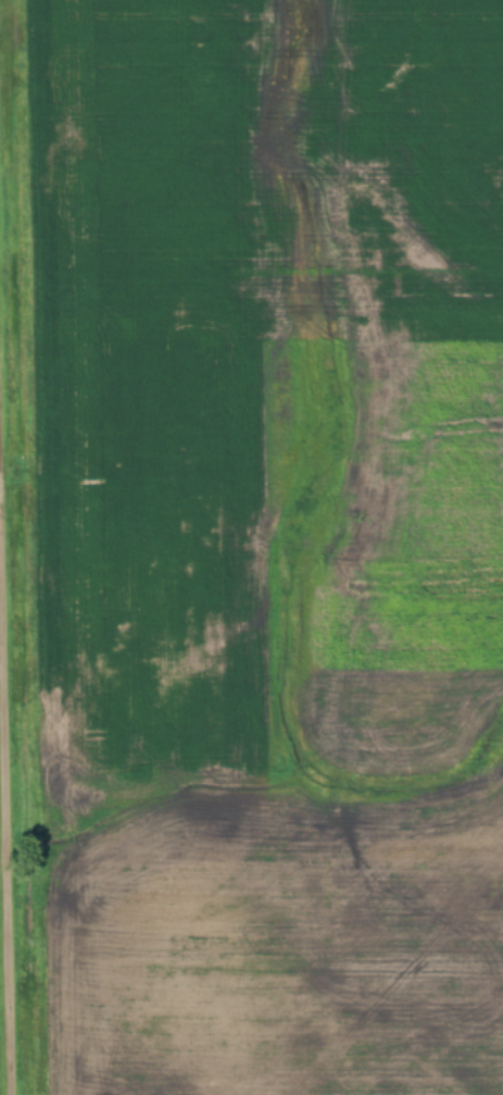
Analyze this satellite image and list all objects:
road: (2, 975)

